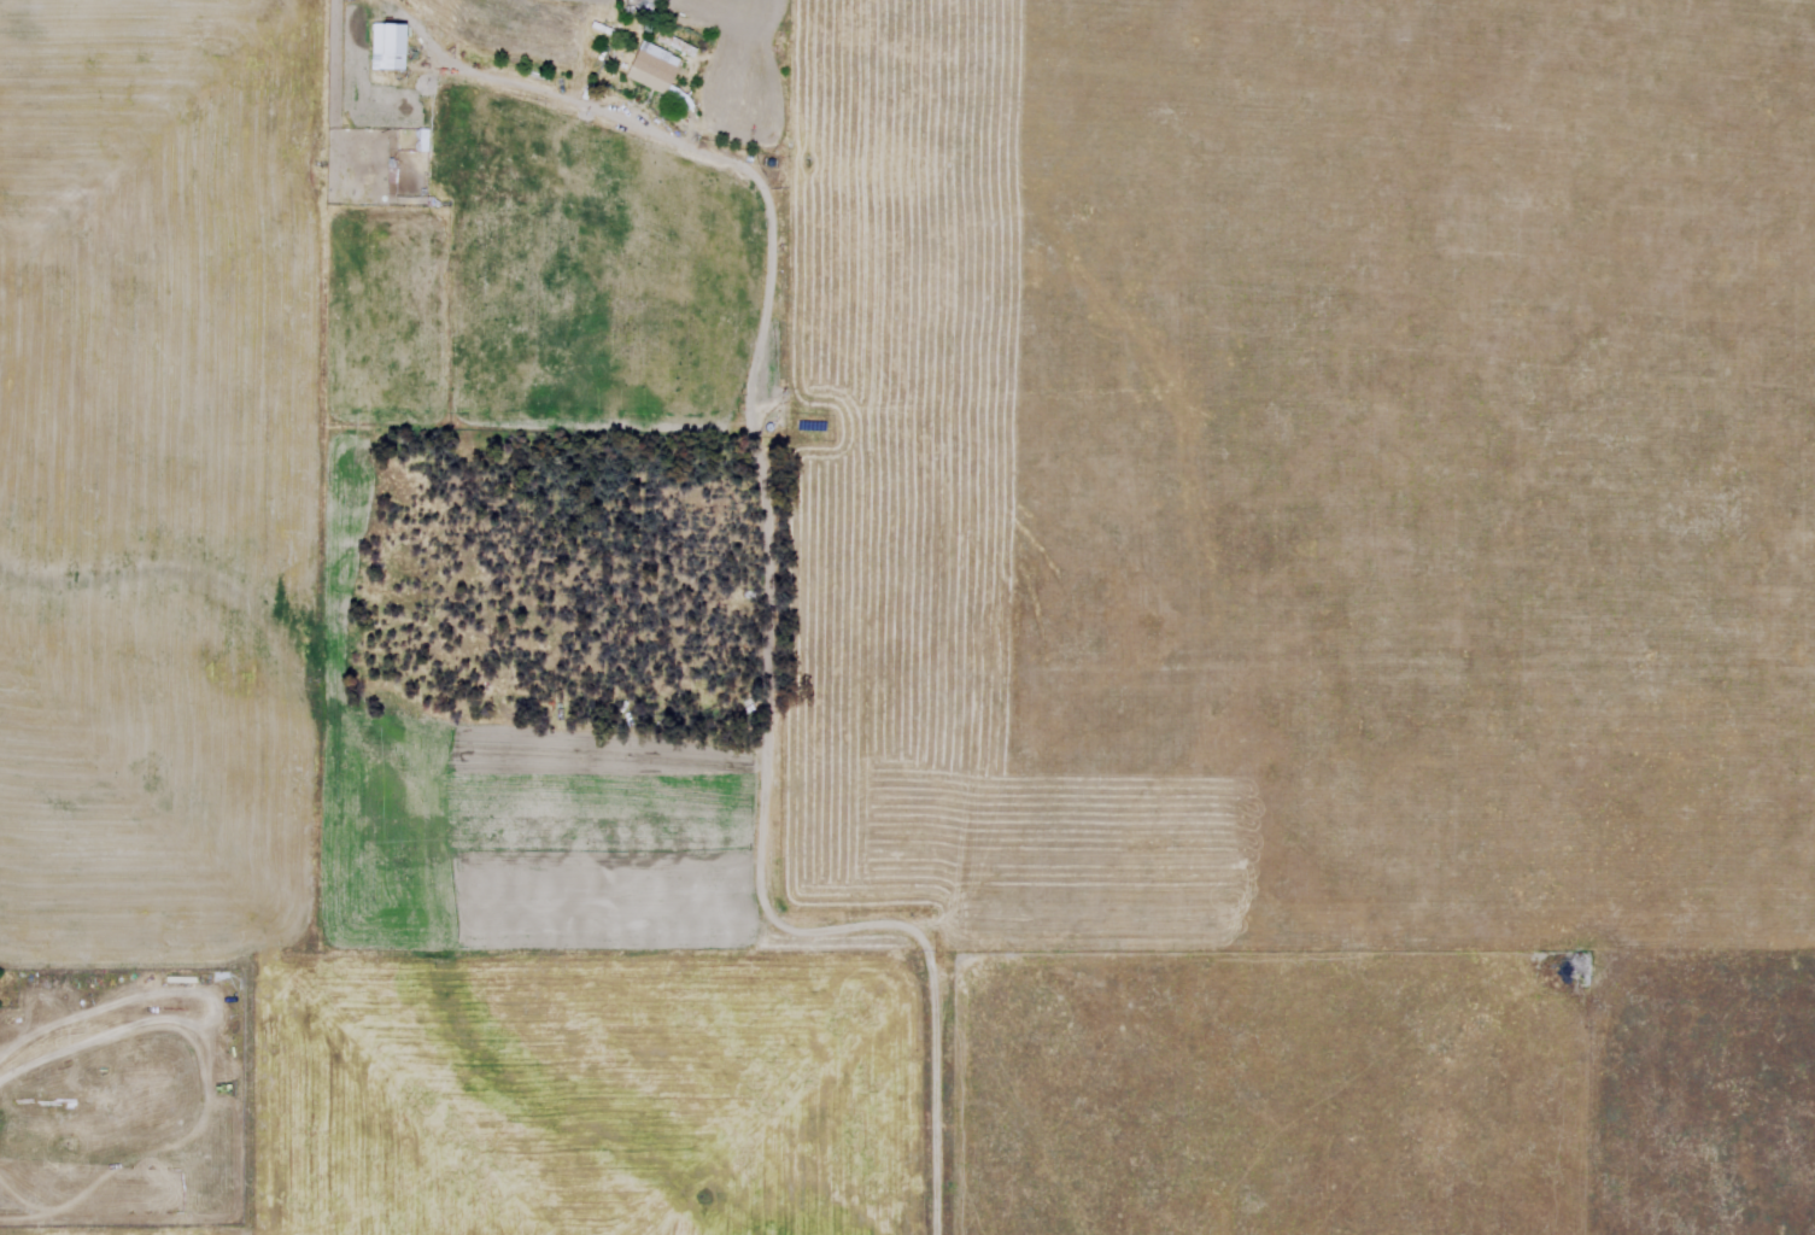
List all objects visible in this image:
building: (391, 47)
building: (656, 70)
road: (769, 614)

